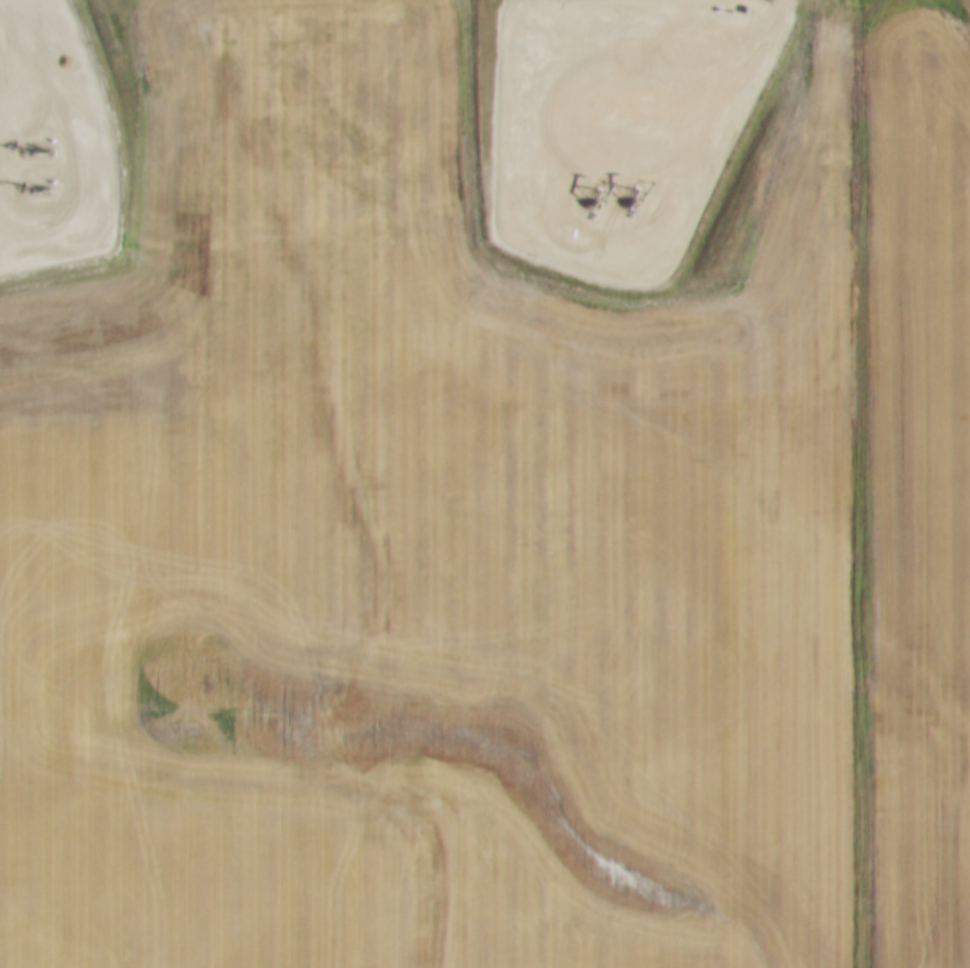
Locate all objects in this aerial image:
petroleum well: (41, 147)
petroleum well: (40, 184)
road: (857, 484)

